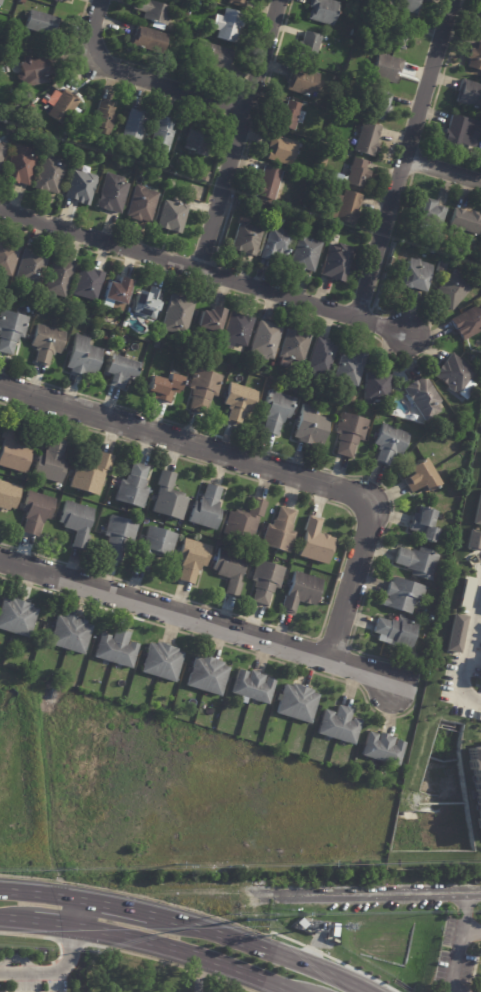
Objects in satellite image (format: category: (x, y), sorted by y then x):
building: (57, 0)
building: (64, 0)
building: (0, 1)
building: (21, 2)
building: (197, 2)
building: (237, 3)
building: (407, 6)
building: (323, 11)
building: (151, 12)
building: (479, 23)
building: (41, 24)
building: (227, 25)
building: (353, 33)
building: (185, 36)
building: (400, 36)
building: (148, 40)
building: (308, 47)
building: (214, 58)
building: (168, 59)
building: (475, 59)
building: (386, 69)
building: (4, 70)
building: (34, 72)
road: (134, 77)
building: (336, 80)
building: (301, 82)
building: (469, 95)
building: (379, 107)
building: (30, 109)
building: (63, 109)
building: (289, 117)
building: (103, 119)
building: (136, 127)
road: (239, 134)
building: (461, 134)
building: (161, 136)
building: (368, 140)
building: (197, 143)
building: (105, 151)
building: (280, 151)
building: (1, 154)
building: (126, 158)
road: (406, 159)
building: (19, 167)
road: (444, 170)
building: (357, 174)
building: (48, 175)
building: (204, 177)
building: (159, 181)
building: (173, 184)
building: (268, 184)
building: (79, 189)
building: (111, 194)
building: (240, 203)
building: (140, 205)
building: (345, 208)
building: (429, 215)
building: (172, 216)
building: (296, 220)
building: (466, 222)
building: (325, 228)
building: (245, 240)
building: (276, 245)
building: (305, 255)
building: (7, 260)
building: (336, 264)
building: (30, 269)
building: (441, 269)
road: (206, 270)
building: (415, 276)
building: (56, 280)
building: (87, 285)
building: (454, 290)
building: (116, 293)
building: (145, 305)
building: (177, 317)
building: (210, 320)
building: (468, 324)
building: (10, 331)
building: (237, 331)
building: (265, 342)
building: (45, 345)
building: (293, 349)
building: (83, 358)
building: (321, 358)
building: (474, 361)
building: (249, 370)
building: (350, 370)
building: (118, 371)
building: (455, 375)
building: (163, 387)
building: (203, 389)
building: (377, 389)
building: (423, 400)
building: (238, 403)
building: (276, 412)
building: (457, 427)
building: (310, 428)
building: (350, 433)
building: (389, 445)
building: (14, 451)
building: (51, 462)
road: (266, 467)
building: (89, 475)
building: (420, 477)
building: (132, 487)
building: (8, 495)
building: (168, 498)
building: (206, 509)
building: (477, 510)
building: (36, 512)
building: (244, 521)
building: (77, 522)
building: (424, 525)
building: (280, 531)
building: (117, 536)
building: (473, 540)
building: (314, 542)
building: (154, 546)
building: (192, 559)
building: (418, 562)
building: (230, 570)
building: (265, 582)
building: (301, 592)
building: (402, 595)
building: (463, 603)
building: (16, 617)
road: (199, 619)
building: (395, 633)
building: (455, 633)
building: (69, 634)
building: (115, 649)
road: (470, 658)
building: (161, 662)
building: (31, 668)
building: (206, 676)
building: (252, 687)
building: (53, 694)
building: (296, 703)
building: (339, 726)
building: (382, 749)
building: (459, 760)
building: (476, 782)
power tower: (175, 860)
road: (42, 892)
road: (369, 894)
road: (115, 906)
road: (78, 913)
road: (16, 918)
power tower: (248, 920)
road: (52, 923)
building: (299, 925)
building: (333, 929)
road: (471, 931)
road: (459, 942)
road: (252, 945)
road: (183, 952)
road: (52, 973)
road: (197, 974)
road: (310, 987)
road: (291, 991)
road: (293, 991)

